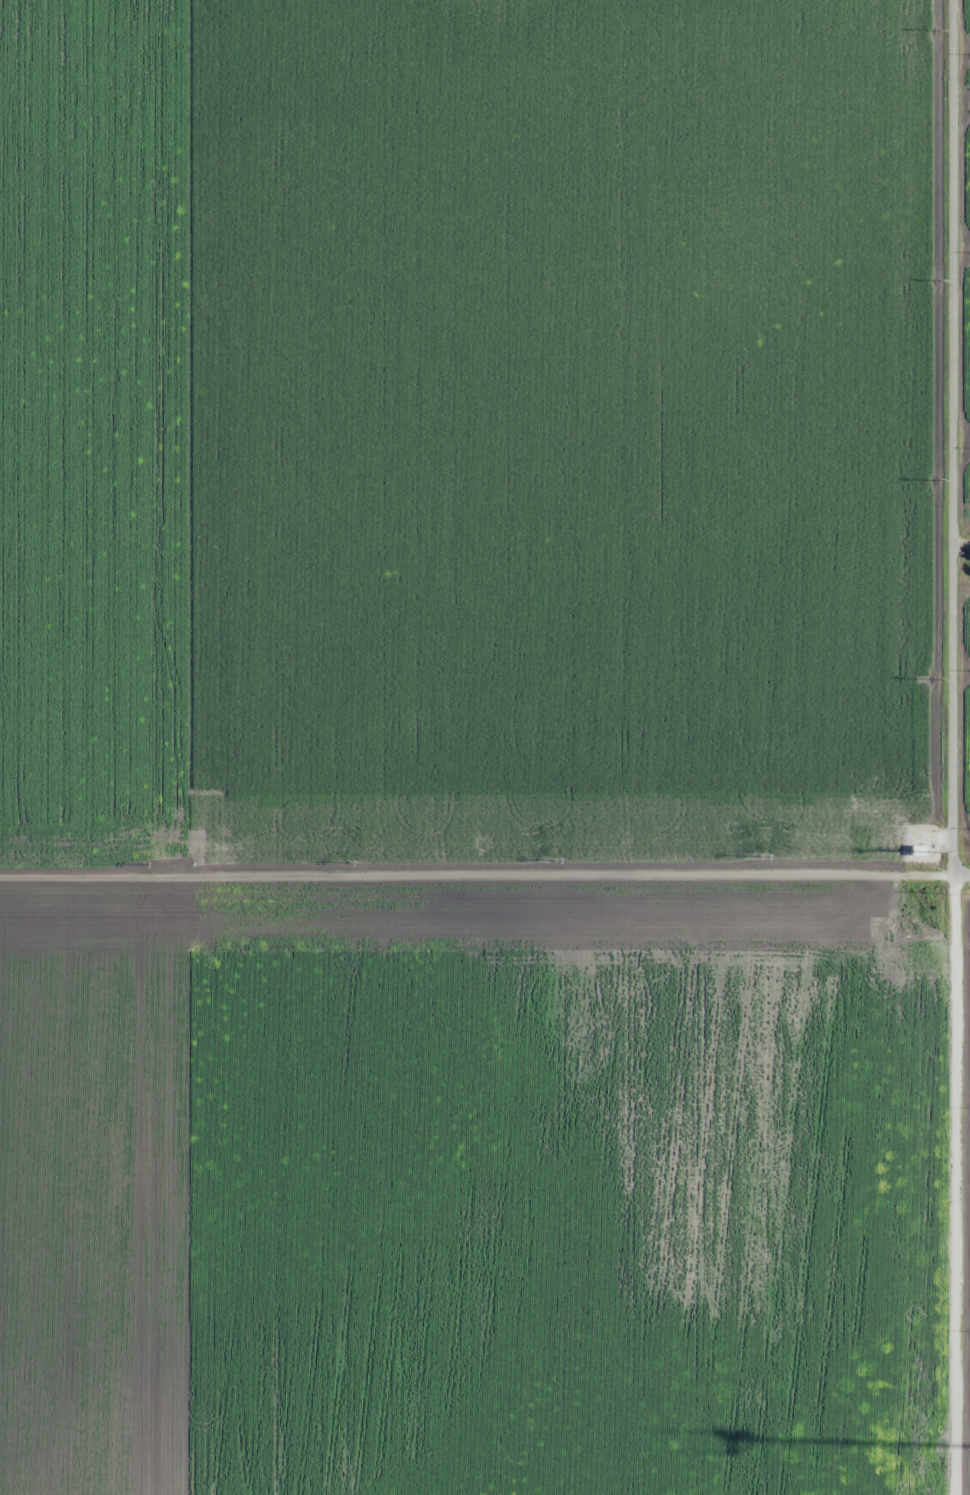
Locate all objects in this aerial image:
crop: (964, 21)
power tower: (938, 30)
crop: (965, 85)
crop: (964, 181)
power tower: (936, 279)
crop: (966, 348)
power tower: (935, 480)
crop: (965, 491)
crop: (965, 627)
power tower: (932, 679)
road: (951, 747)
crop: (965, 747)
power substation: (919, 842)
building: (916, 849)
power tower: (929, 851)
power tower: (758, 856)
power tower: (550, 858)
power tower: (144, 863)
power tower: (347, 863)
road: (485, 875)

